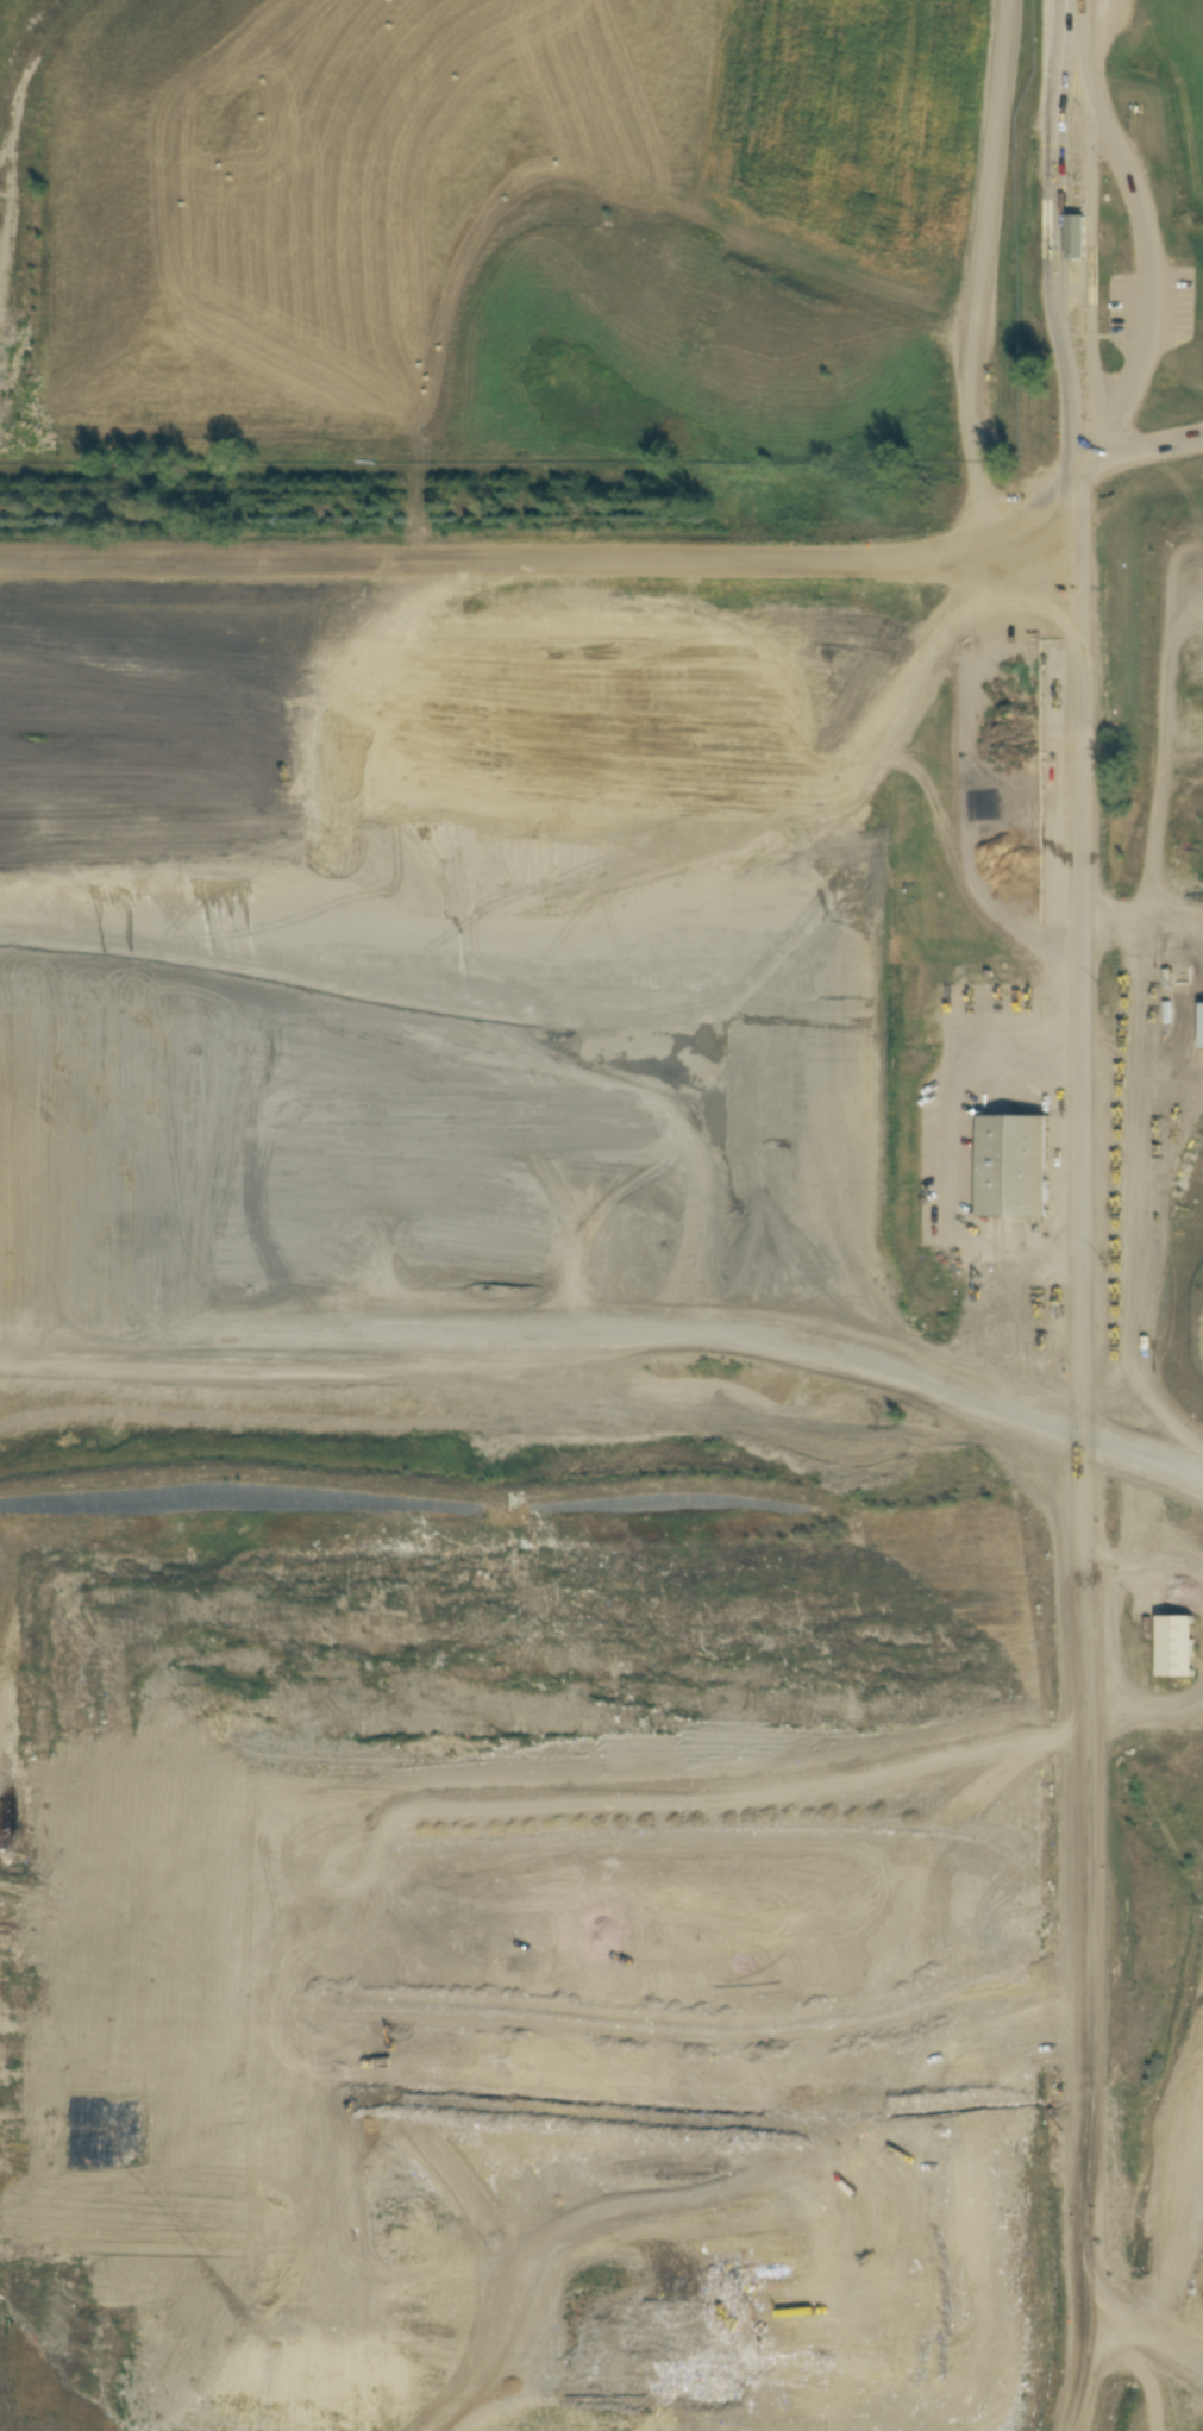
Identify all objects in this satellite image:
building: (1076, 237)
road: (1157, 270)
road: (1141, 444)
road: (1078, 557)
building: (1057, 763)
building: (1198, 1025)
building: (1013, 1173)
road: (549, 1293)
landfill: (601, 1489)
building: (1177, 1647)
road: (1073, 1773)

